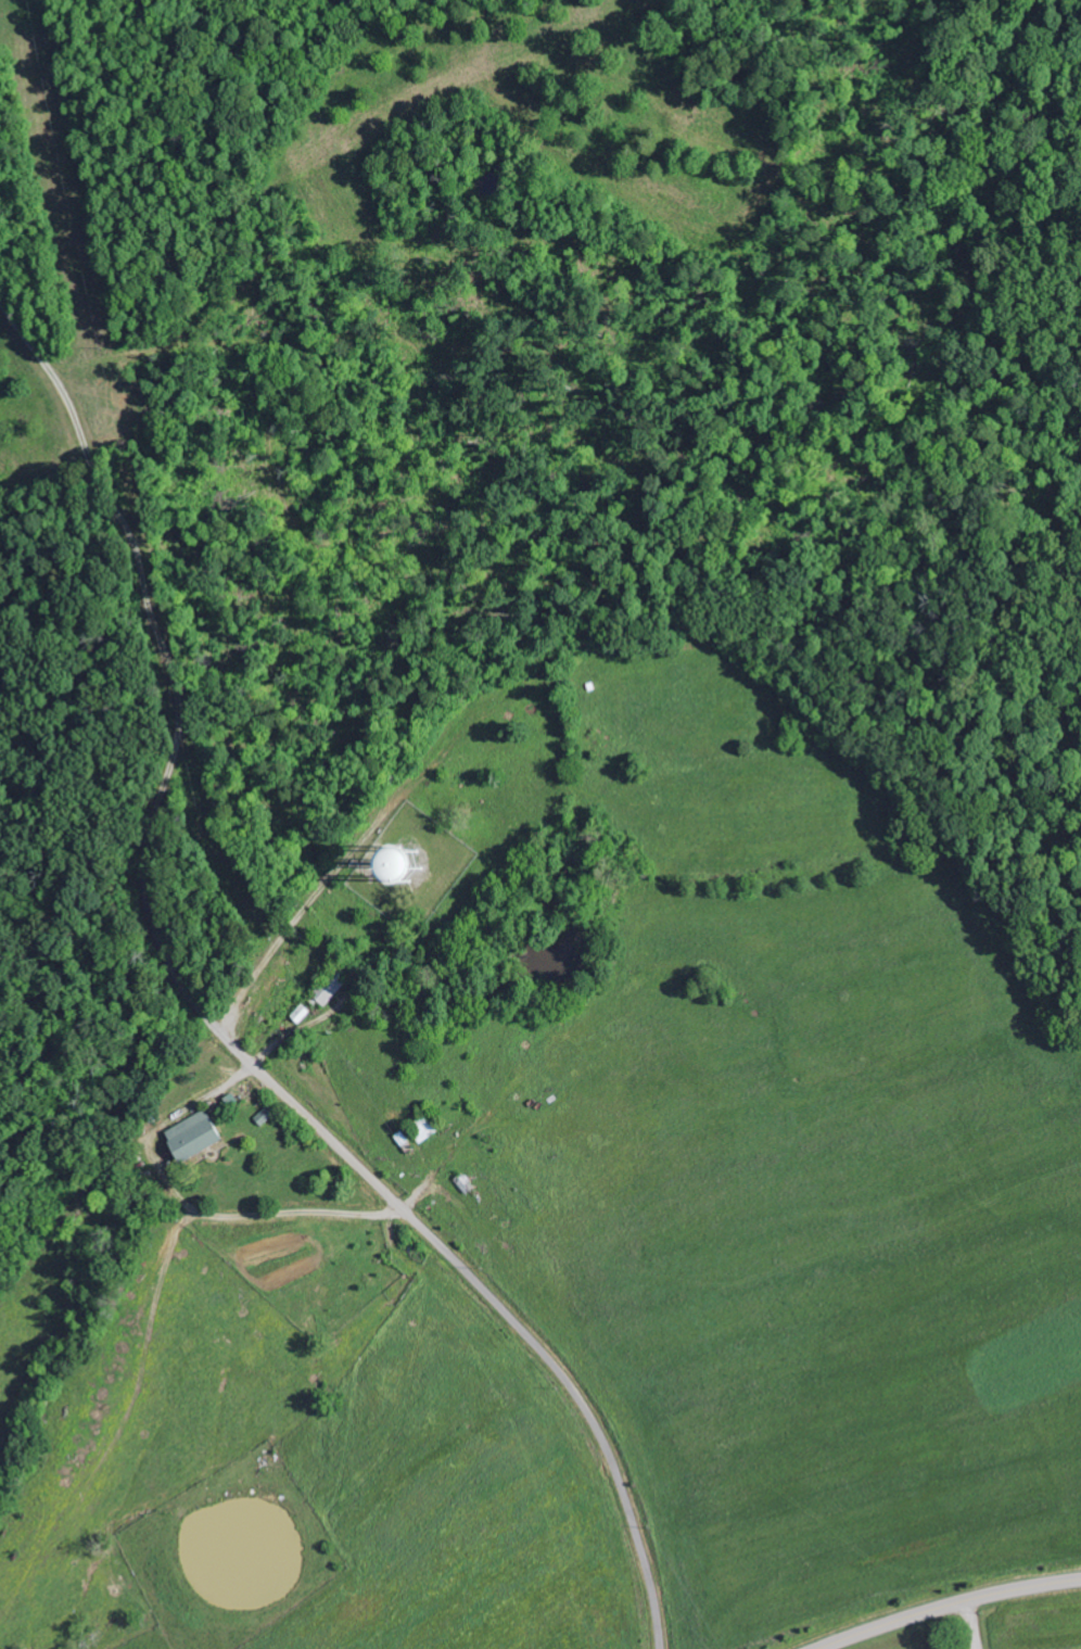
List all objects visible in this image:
building: (395, 873)
building: (265, 1116)
building: (193, 1137)
building: (405, 1141)
road: (425, 1232)
road: (950, 1607)

